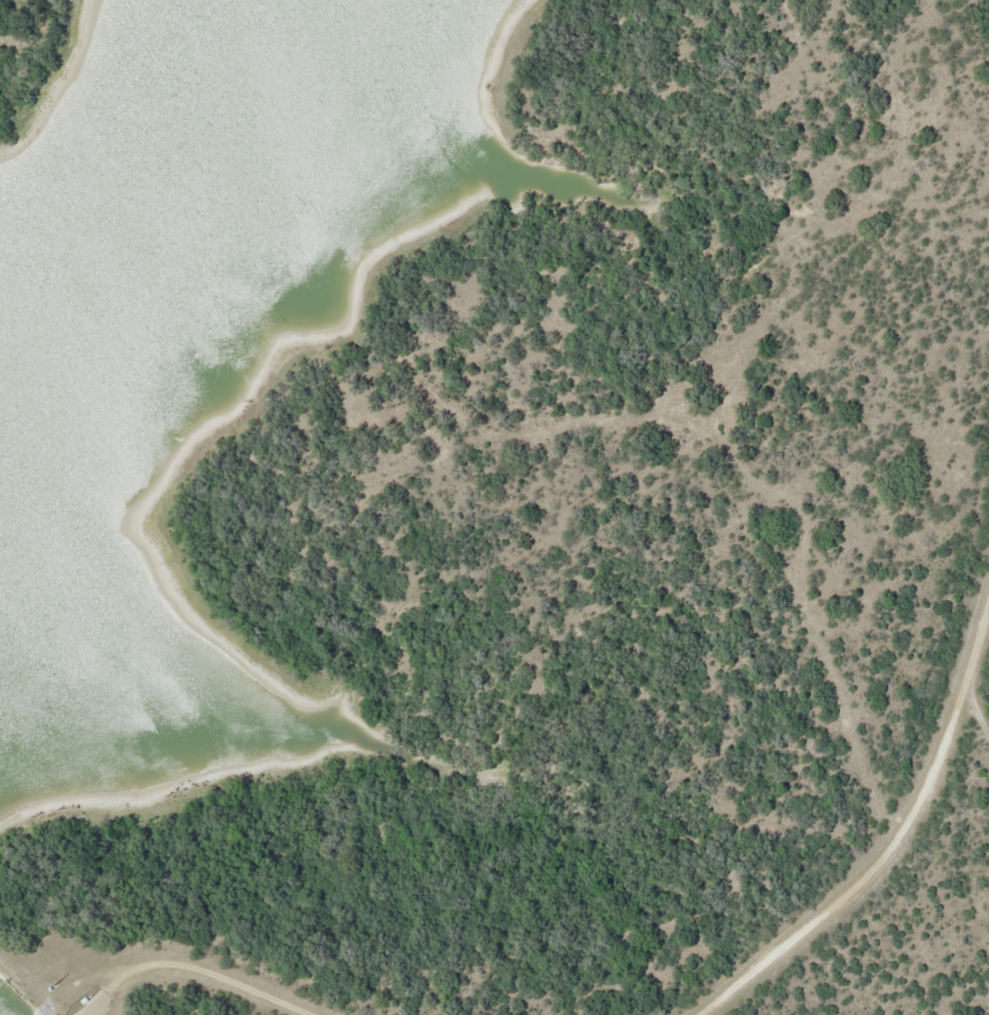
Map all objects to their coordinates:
road: (978, 709)
road: (897, 840)
road: (193, 971)

